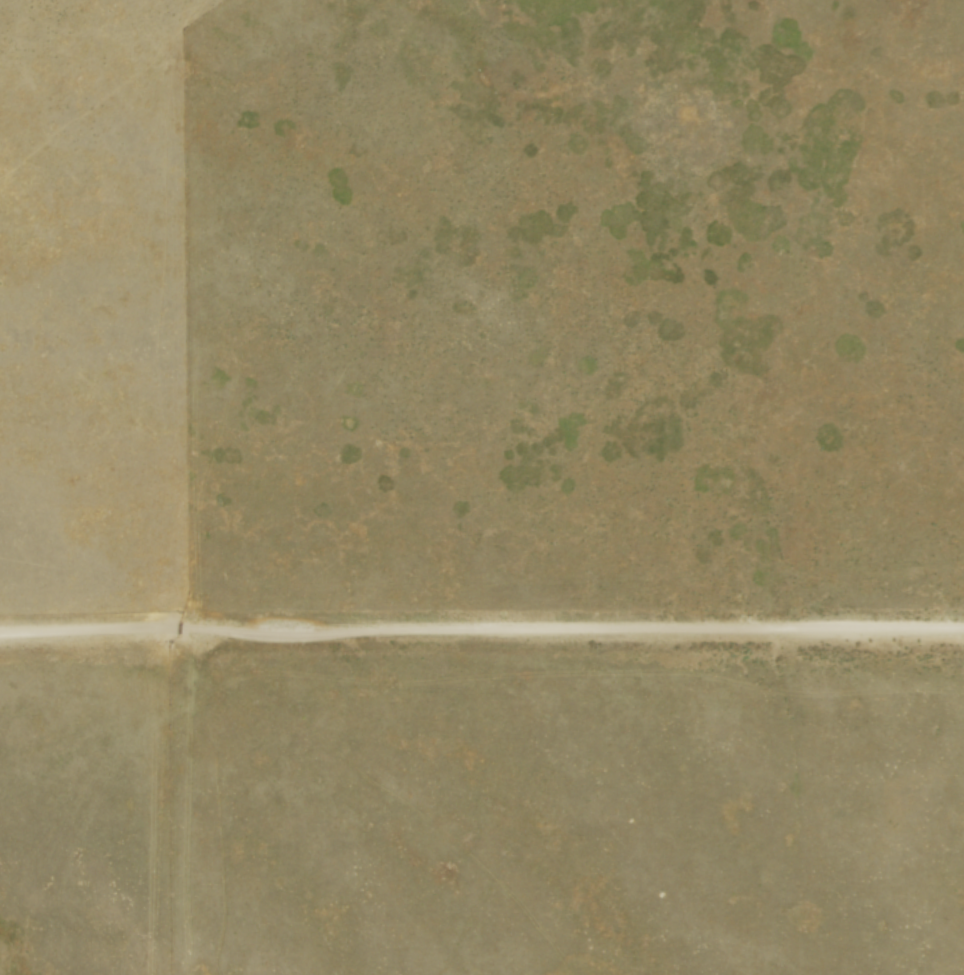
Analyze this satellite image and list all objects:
road: (481, 626)

